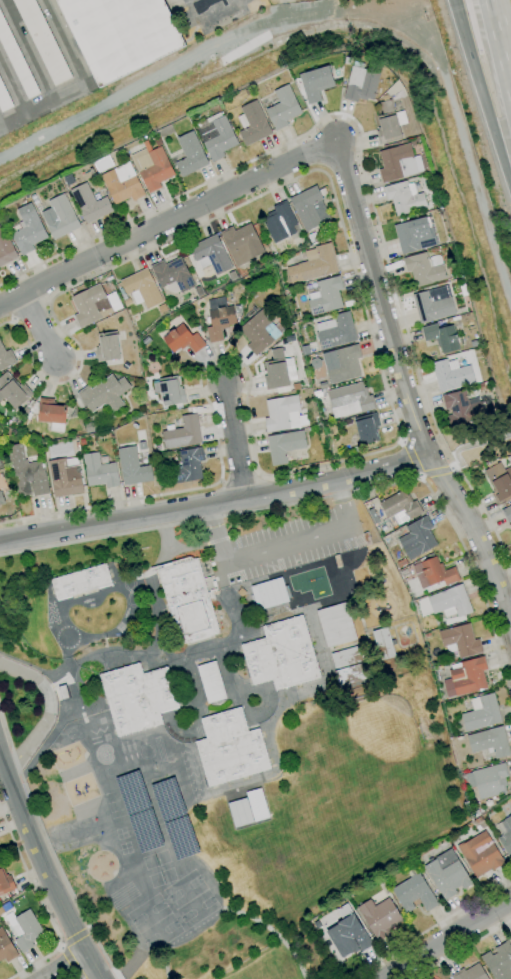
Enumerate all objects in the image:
building: (111, 36)
building: (41, 41)
road: (500, 50)
road: (76, 79)
building: (316, 83)
building: (361, 83)
road: (482, 92)
building: (3, 99)
building: (283, 108)
building: (389, 123)
building: (253, 124)
building: (216, 135)
building: (190, 154)
road: (361, 160)
building: (397, 163)
building: (154, 168)
building: (122, 183)
building: (404, 198)
building: (91, 203)
building: (309, 208)
building: (60, 217)
building: (0, 218)
road: (167, 221)
building: (279, 222)
building: (28, 230)
building: (415, 235)
building: (241, 243)
building: (6, 248)
building: (211, 253)
building: (313, 264)
building: (424, 270)
building: (172, 275)
building: (142, 288)
building: (326, 296)
building: (434, 304)
building: (89, 305)
building: (237, 309)
road: (31, 312)
building: (218, 322)
road: (38, 324)
building: (257, 331)
building: (335, 331)
building: (441, 337)
building: (182, 339)
building: (107, 347)
building: (6, 358)
building: (342, 363)
building: (278, 372)
road: (381, 374)
building: (451, 375)
building: (322, 385)
building: (13, 391)
building: (170, 391)
building: (319, 393)
building: (104, 394)
road: (405, 395)
building: (350, 399)
building: (462, 408)
building: (51, 413)
building: (283, 414)
building: (90, 427)
building: (367, 428)
building: (182, 433)
road: (232, 441)
building: (284, 445)
road: (472, 445)
road: (411, 457)
building: (186, 466)
building: (132, 467)
building: (99, 471)
building: (26, 472)
road: (439, 472)
road: (240, 477)
building: (64, 478)
building: (499, 482)
building: (1, 489)
road: (331, 495)
building: (1, 499)
road: (214, 503)
building: (399, 508)
building: (507, 514)
building: (372, 516)
building: (417, 538)
road: (282, 547)
building: (401, 562)
building: (434, 573)
building: (80, 581)
building: (268, 593)
building: (188, 601)
building: (450, 602)
building: (336, 625)
building: (460, 640)
building: (383, 644)
building: (281, 655)
building: (347, 657)
building: (350, 675)
building: (466, 677)
building: (211, 682)
building: (62, 692)
building: (137, 697)
building: (481, 712)
road: (49, 713)
building: (489, 742)
building: (230, 748)
building: (488, 780)
road: (10, 792)
building: (247, 808)
building: (510, 813)
building: (506, 838)
road: (51, 848)
building: (480, 854)
building: (447, 874)
building: (5, 882)
building: (414, 893)
road: (59, 901)
road: (42, 904)
building: (4, 908)
building: (380, 917)
road: (436, 924)
building: (26, 930)
building: (348, 934)
road: (73, 936)
building: (510, 937)
building: (510, 939)
road: (451, 940)
building: (6, 948)
road: (463, 949)
park: (262, 957)
road: (294, 957)
road: (67, 961)
building: (498, 961)
road: (62, 965)
building: (469, 973)
road: (166, 974)

